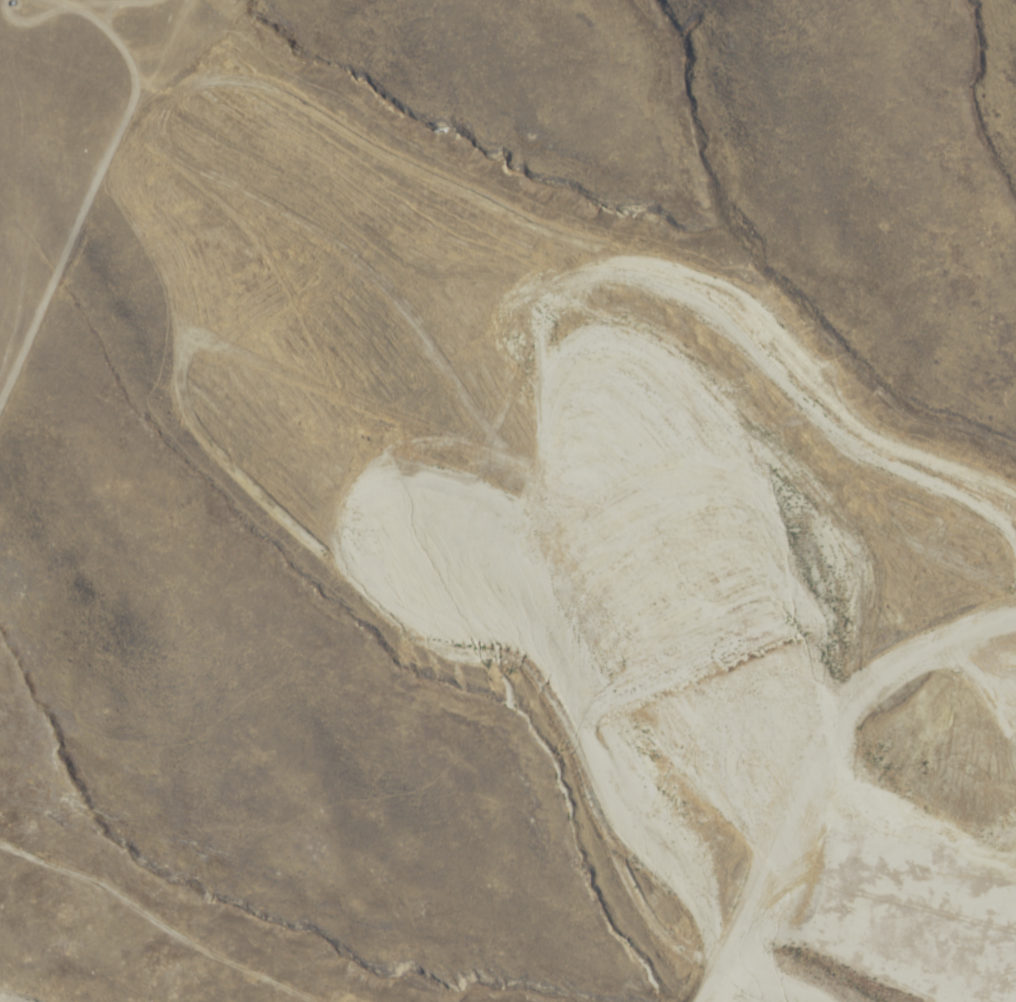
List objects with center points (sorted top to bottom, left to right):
road: (806, 758)

